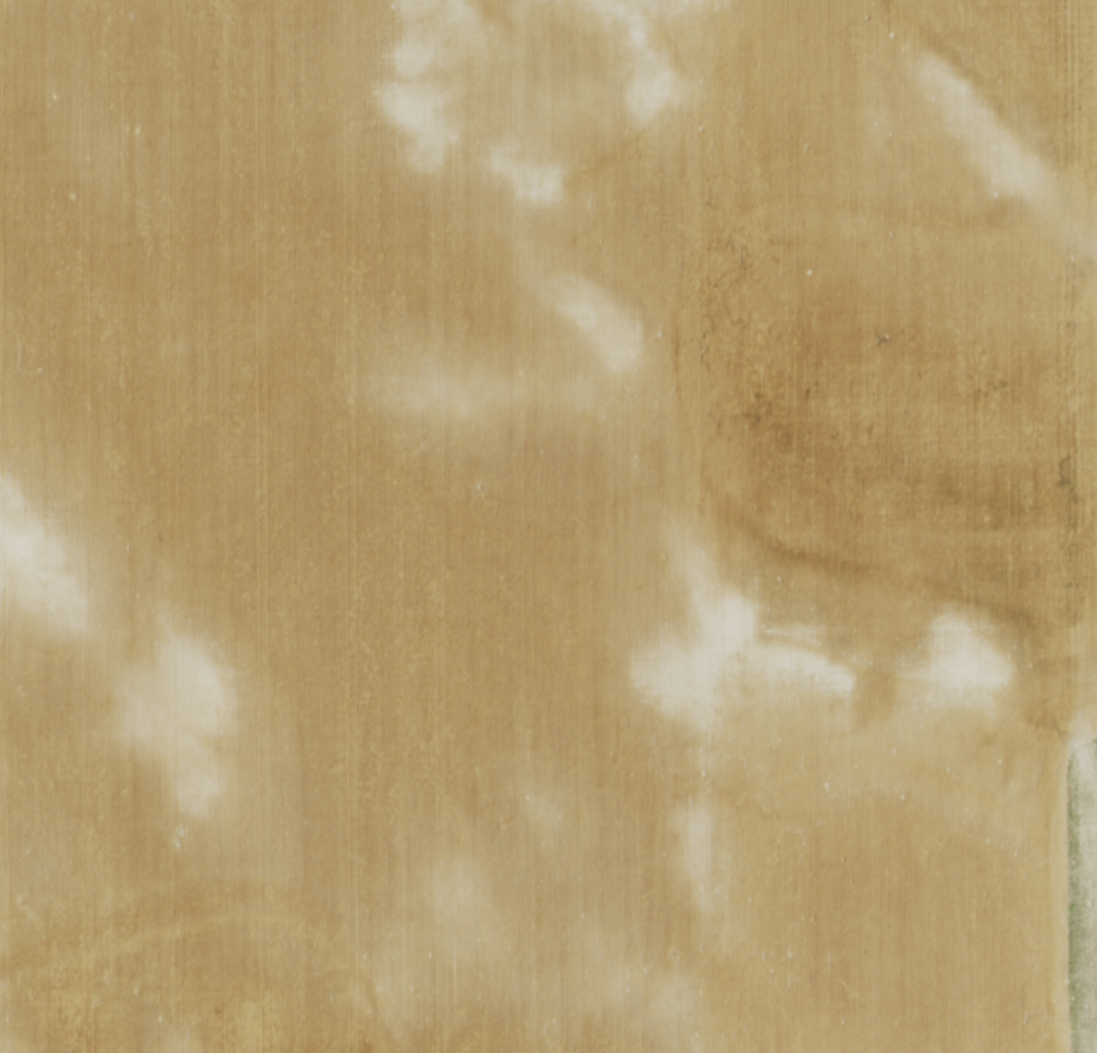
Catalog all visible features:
crop: (548, 526)

